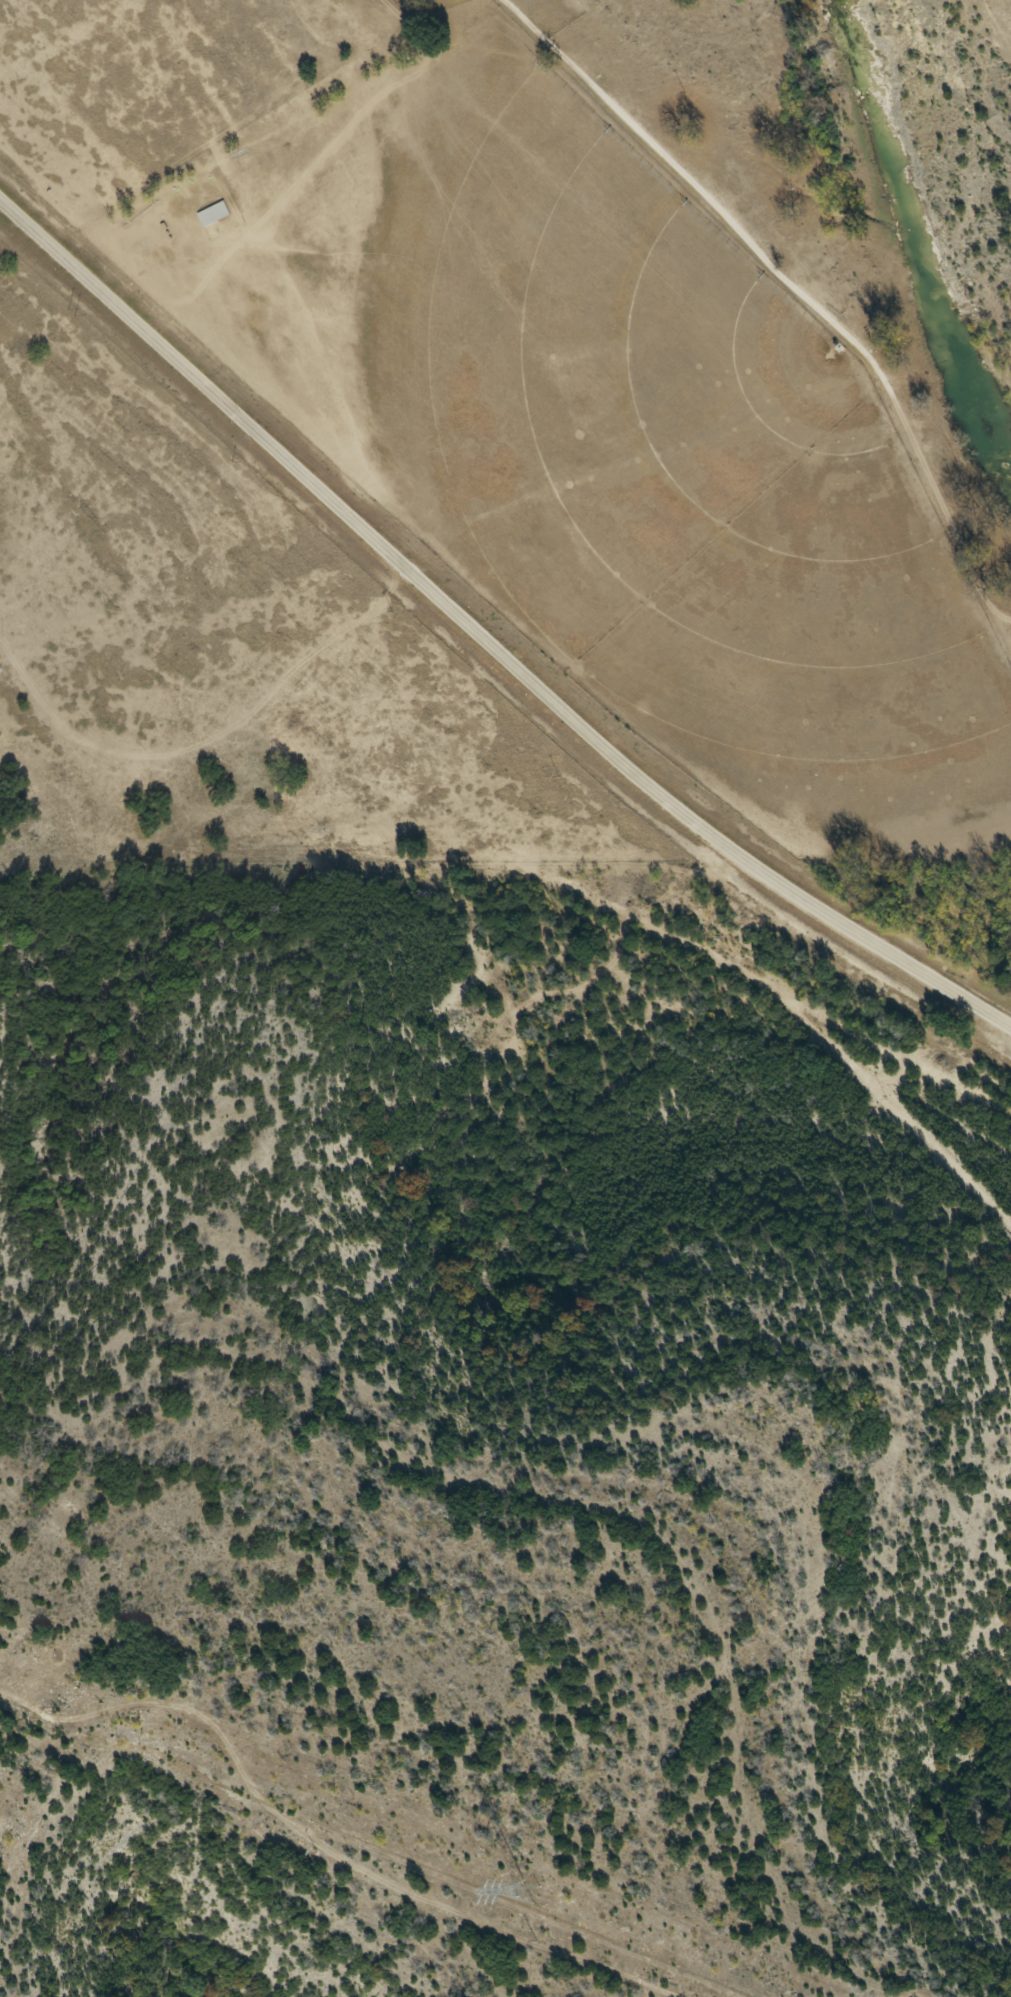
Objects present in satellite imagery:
road: (485, 636)
power tower: (522, 1894)

